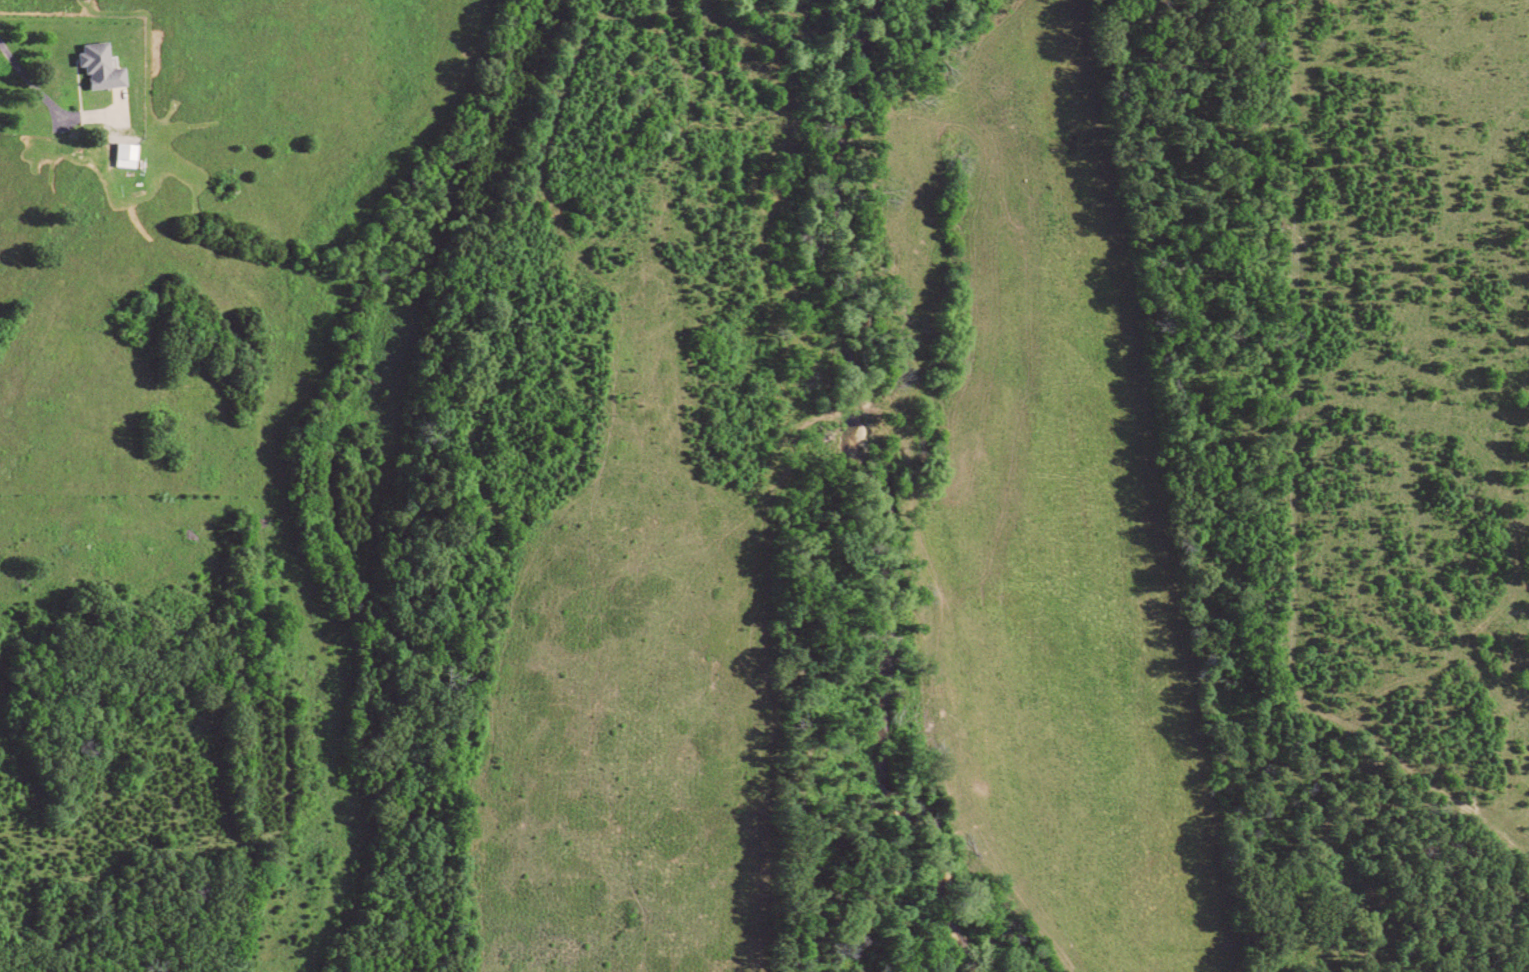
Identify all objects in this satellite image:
building: (107, 65)
building: (133, 153)
road: (1292, 493)

